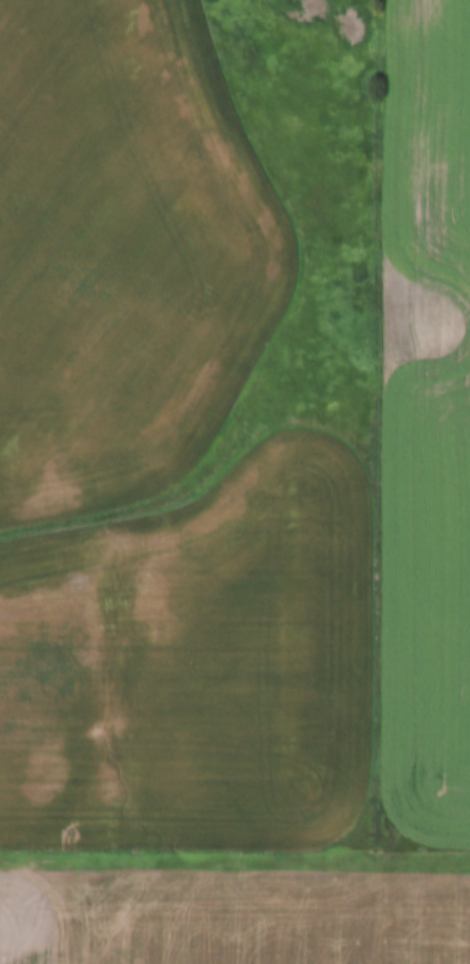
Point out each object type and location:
road: (235, 881)

